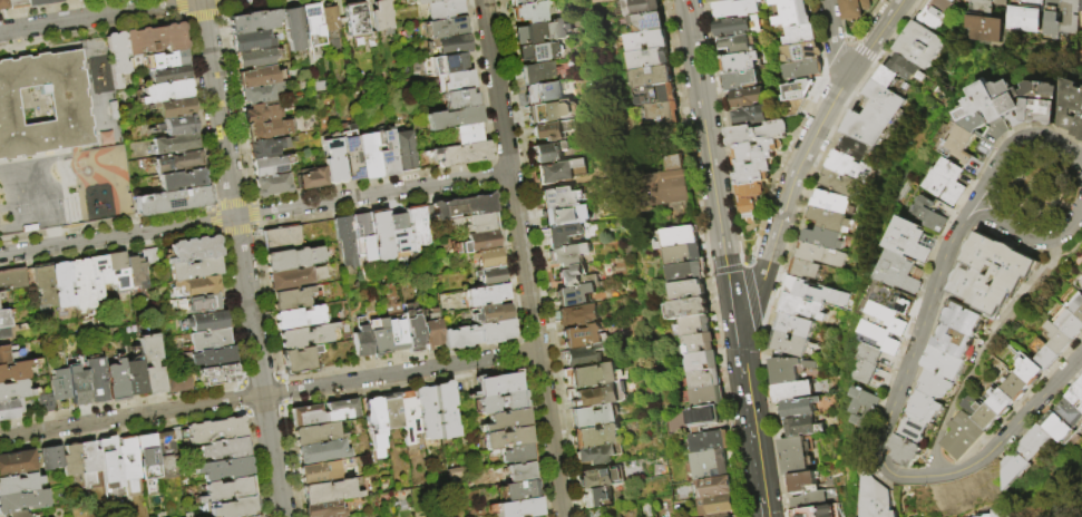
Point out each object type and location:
building: (717, 0)
building: (50, 1)
building: (417, 1)
building: (523, 1)
building: (603, 1)
building: (31, 2)
building: (3, 3)
road: (218, 3)
building: (14, 4)
road: (253, 4)
road: (45, 7)
road: (177, 7)
building: (640, 7)
building: (735, 8)
building: (440, 9)
building: (855, 10)
road: (218, 11)
building: (529, 11)
building: (792, 13)
building: (937, 13)
building: (1027, 14)
road: (99, 16)
road: (199, 16)
building: (381, 17)
building: (1073, 17)
building: (1055, 18)
road: (182, 19)
building: (254, 21)
building: (649, 21)
building: (988, 21)
building: (330, 23)
building: (312, 26)
building: (358, 26)
building: (737, 26)
building: (442, 28)
building: (294, 29)
road: (90, 31)
building: (540, 31)
building: (802, 35)
road: (876, 35)
road: (820, 37)
road: (834, 38)
building: (155, 39)
road: (852, 39)
building: (650, 40)
building: (252, 41)
building: (734, 43)
building: (446, 45)
building: (920, 45)
road: (861, 49)
building: (538, 51)
building: (803, 52)
building: (117, 56)
road: (837, 57)
building: (255, 58)
building: (650, 58)
building: (166, 59)
road: (875, 61)
building: (739, 62)
building: (442, 64)
building: (907, 68)
building: (803, 70)
building: (168, 74)
building: (536, 74)
building: (259, 76)
building: (654, 76)
building: (888, 77)
building: (451, 79)
building: (740, 80)
building: (796, 89)
building: (167, 91)
building: (261, 92)
building: (542, 92)
building: (657, 94)
building: (748, 97)
building: (1011, 97)
building: (455, 98)
building: (990, 101)
building: (68, 103)
building: (1047, 103)
building: (1075, 105)
building: (793, 106)
building: (174, 107)
building: (552, 110)
building: (260, 113)
building: (752, 115)
building: (876, 115)
building: (450, 117)
building: (974, 118)
building: (664, 120)
building: (177, 126)
building: (267, 129)
building: (552, 129)
building: (465, 133)
road: (689, 133)
building: (759, 133)
building: (959, 143)
building: (175, 144)
building: (854, 147)
building: (266, 148)
building: (404, 150)
building: (548, 150)
building: (350, 152)
building: (386, 152)
road: (709, 152)
building: (457, 153)
building: (368, 156)
building: (332, 158)
building: (178, 162)
building: (675, 163)
building: (270, 166)
building: (850, 167)
building: (559, 170)
building: (754, 172)
building: (312, 178)
building: (182, 179)
building: (952, 182)
road: (357, 183)
building: (839, 183)
building: (272, 185)
park: (1045, 187)
building: (663, 188)
road: (994, 188)
road: (790, 192)
building: (559, 197)
road: (984, 197)
road: (246, 198)
road: (1049, 199)
building: (172, 201)
road: (228, 202)
road: (252, 202)
building: (830, 202)
building: (462, 207)
road: (199, 209)
road: (1080, 209)
building: (933, 212)
road: (1053, 212)
road: (253, 213)
road: (254, 213)
building: (427, 214)
building: (565, 215)
building: (829, 218)
road: (987, 218)
road: (211, 220)
building: (479, 224)
road: (255, 225)
building: (416, 226)
building: (361, 227)
building: (398, 227)
road: (252, 231)
road: (235, 232)
road: (218, 233)
building: (562, 234)
building: (380, 235)
road: (946, 235)
building: (676, 236)
road: (737, 237)
building: (823, 238)
building: (281, 240)
building: (914, 240)
building: (345, 241)
building: (477, 242)
road: (791, 244)
building: (189, 248)
building: (684, 252)
building: (821, 254)
building: (566, 255)
building: (150, 256)
road: (241, 257)
building: (292, 258)
building: (486, 258)
road: (523, 258)
road: (536, 258)
road: (727, 265)
road: (507, 267)
building: (193, 269)
building: (806, 270)
building: (686, 271)
building: (118, 272)
building: (136, 272)
building: (905, 272)
building: (1001, 273)
building: (98, 274)
building: (488, 276)
building: (28, 277)
building: (573, 277)
building: (12, 279)
building: (293, 279)
building: (1081, 282)
building: (61, 285)
building: (80, 285)
building: (194, 285)
building: (42, 290)
building: (690, 290)
building: (813, 291)
building: (484, 294)
building: (573, 294)
building: (0, 296)
road: (263, 296)
building: (895, 296)
building: (290, 299)
road: (752, 300)
building: (204, 302)
building: (802, 306)
building: (1078, 308)
building: (690, 309)
road: (946, 309)
building: (490, 313)
building: (575, 315)
building: (296, 318)
building: (891, 318)
building: (3, 320)
road: (231, 320)
building: (207, 322)
building: (1071, 323)
building: (693, 325)
building: (795, 325)
road: (930, 325)
building: (413, 328)
building: (431, 328)
building: (964, 328)
building: (4, 333)
building: (477, 334)
building: (396, 335)
building: (581, 335)
building: (305, 336)
building: (378, 336)
building: (885, 338)
building: (1059, 338)
building: (209, 340)
building: (361, 341)
building: (700, 343)
building: (789, 343)
road: (990, 352)
building: (1045, 352)
building: (3, 355)
building: (213, 357)
building: (581, 357)
building: (300, 360)
building: (702, 361)
building: (949, 361)
building: (874, 363)
building: (152, 364)
building: (789, 370)
building: (1032, 370)
building: (14, 371)
road: (477, 371)
building: (218, 374)
building: (589, 374)
building: (134, 378)
road: (279, 378)
building: (705, 379)
building: (96, 380)
road: (260, 380)
building: (1081, 380)
road: (242, 381)
building: (116, 382)
building: (177, 382)
building: (940, 382)
building: (497, 383)
building: (59, 386)
road: (240, 386)
building: (1020, 386)
building: (78, 387)
building: (16, 391)
road: (281, 391)
road: (728, 391)
building: (792, 391)
road: (267, 393)
building: (1076, 393)
building: (594, 396)
building: (709, 396)
road: (240, 397)
road: (1024, 399)
building: (1005, 400)
building: (869, 401)
building: (45, 403)
building: (500, 403)
road: (283, 406)
building: (930, 406)
building: (800, 407)
road: (242, 408)
road: (263, 409)
building: (445, 409)
building: (10, 410)
building: (340, 410)
road: (750, 410)
road: (247, 411)
building: (391, 411)
building: (1072, 411)
building: (428, 412)
building: (987, 412)
building: (306, 416)
building: (409, 416)
building: (593, 416)
building: (704, 416)
road: (175, 420)
building: (506, 420)
building: (864, 420)
road: (887, 421)
building: (376, 426)
building: (805, 426)
road: (886, 426)
building: (919, 427)
building: (1063, 427)
building: (217, 430)
building: (179, 432)
building: (316, 433)
building: (969, 435)
building: (594, 436)
building: (507, 438)
building: (711, 440)
building: (1041, 441)
building: (223, 449)
building: (913, 449)
building: (322, 451)
building: (165, 452)
building: (597, 453)
building: (518, 455)
building: (147, 456)
building: (795, 456)
building: (50, 457)
building: (71, 460)
road: (988, 460)
building: (17, 462)
building: (129, 462)
road: (290, 462)
building: (710, 465)
road: (947, 465)
building: (91, 466)
building: (110, 468)
building: (225, 468)
building: (1022, 469)
building: (520, 470)
building: (318, 472)
building: (598, 477)
building: (803, 481)
building: (20, 484)
building: (714, 487)
building: (517, 489)
building: (225, 491)
building: (329, 491)
building: (595, 496)
building: (876, 496)
building: (810, 499)
building: (23, 500)
building: (891, 500)
building: (718, 505)
building: (237, 507)
building: (517, 508)
building: (325, 509)
building: (819, 511)
building: (594, 513)
building: (1003, 513)
building: (19, 514)
building: (720, 515)
building: (253, 516)
building: (991, 516)

